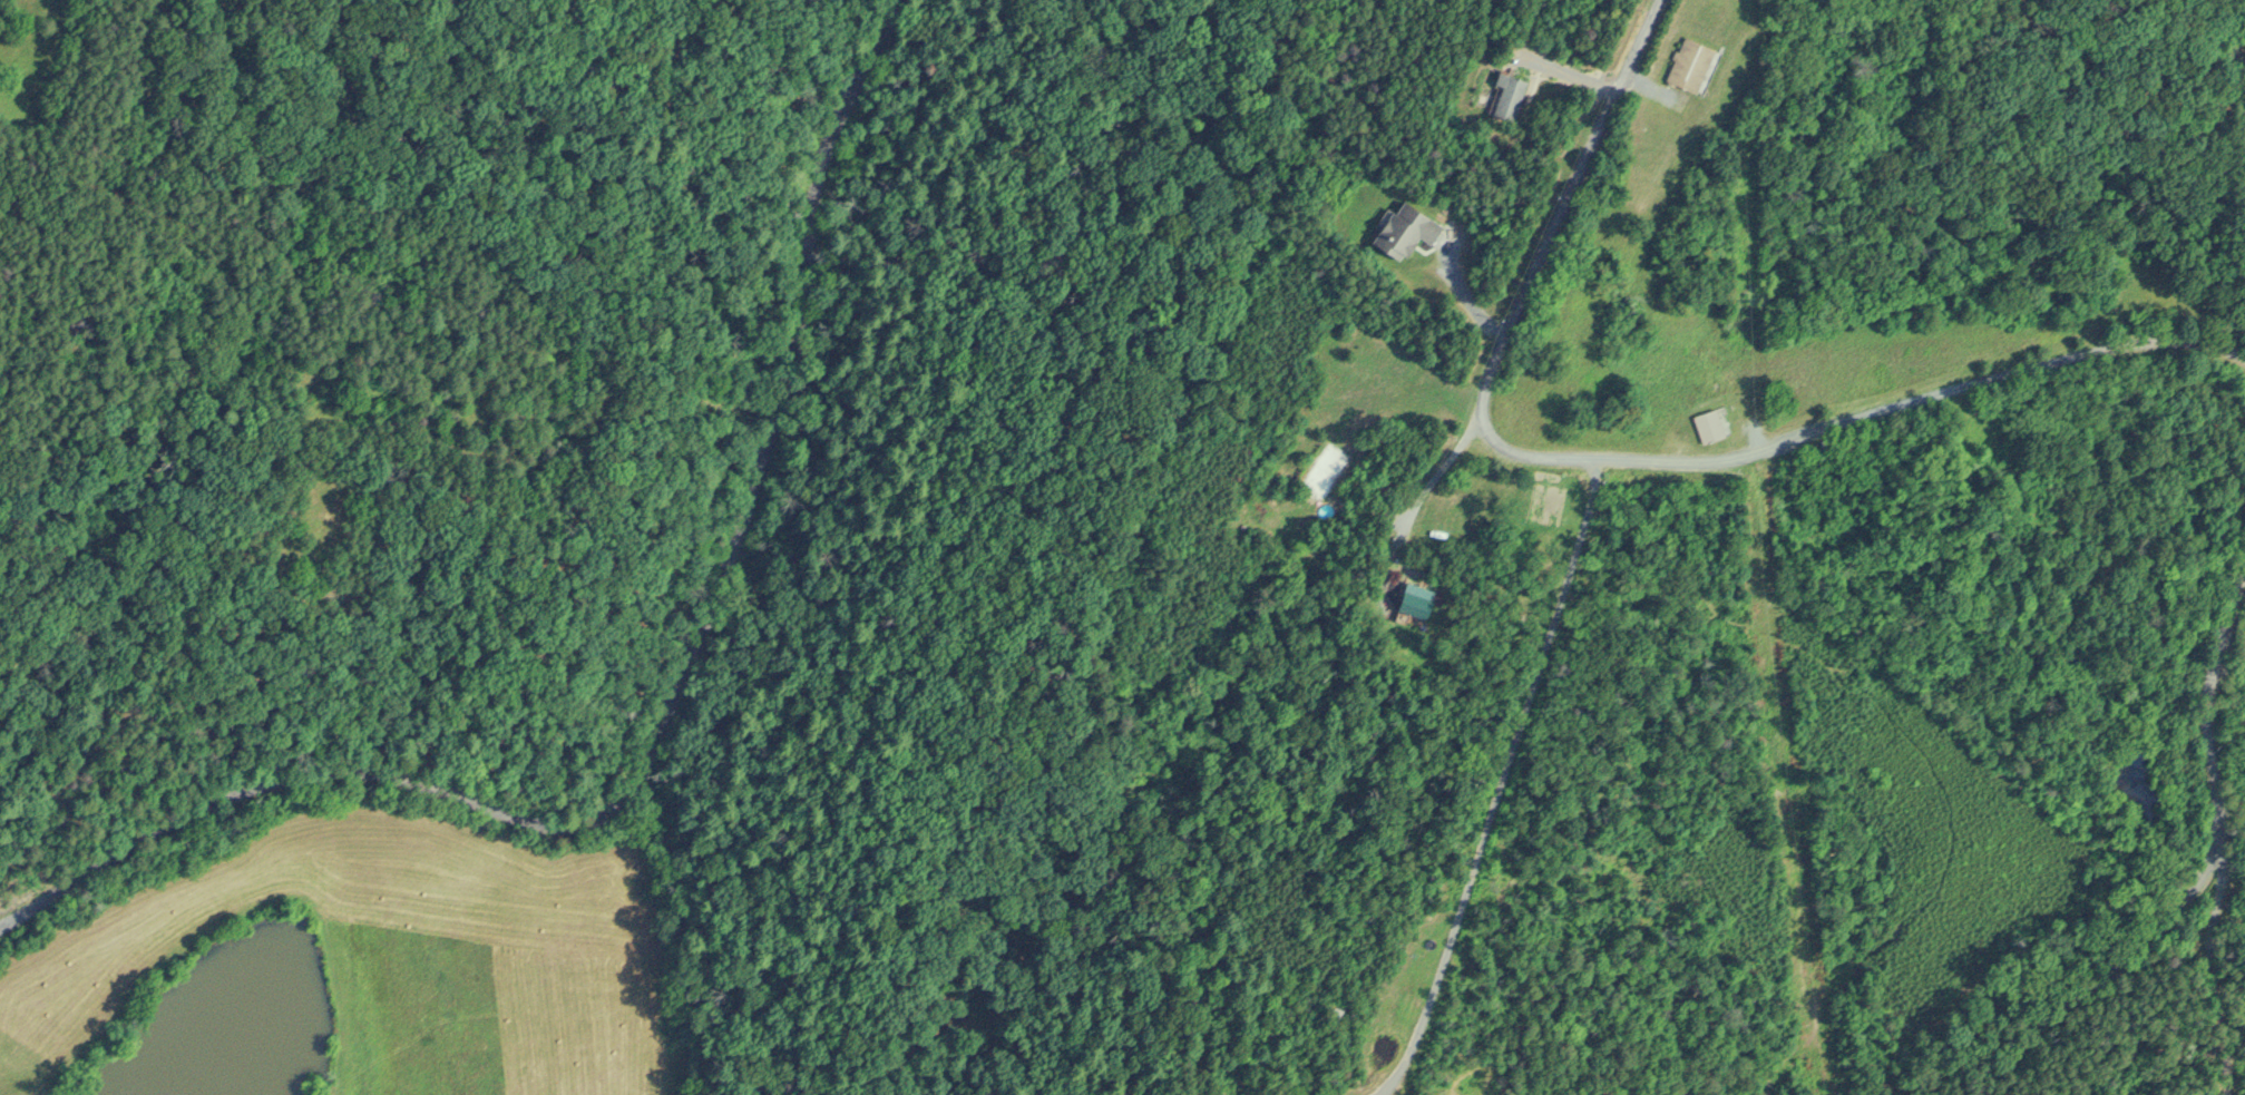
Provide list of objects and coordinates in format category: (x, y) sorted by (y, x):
building: (1690, 63)
building: (1506, 95)
road: (1563, 214)
building: (1402, 228)
road: (1466, 294)
road: (1862, 420)
building: (1707, 423)
road: (1434, 475)
building: (1409, 607)
road: (2210, 723)
road: (665, 727)
road: (1501, 784)
road: (2080, 981)
road: (2222, 987)
building: (1334, 1011)

